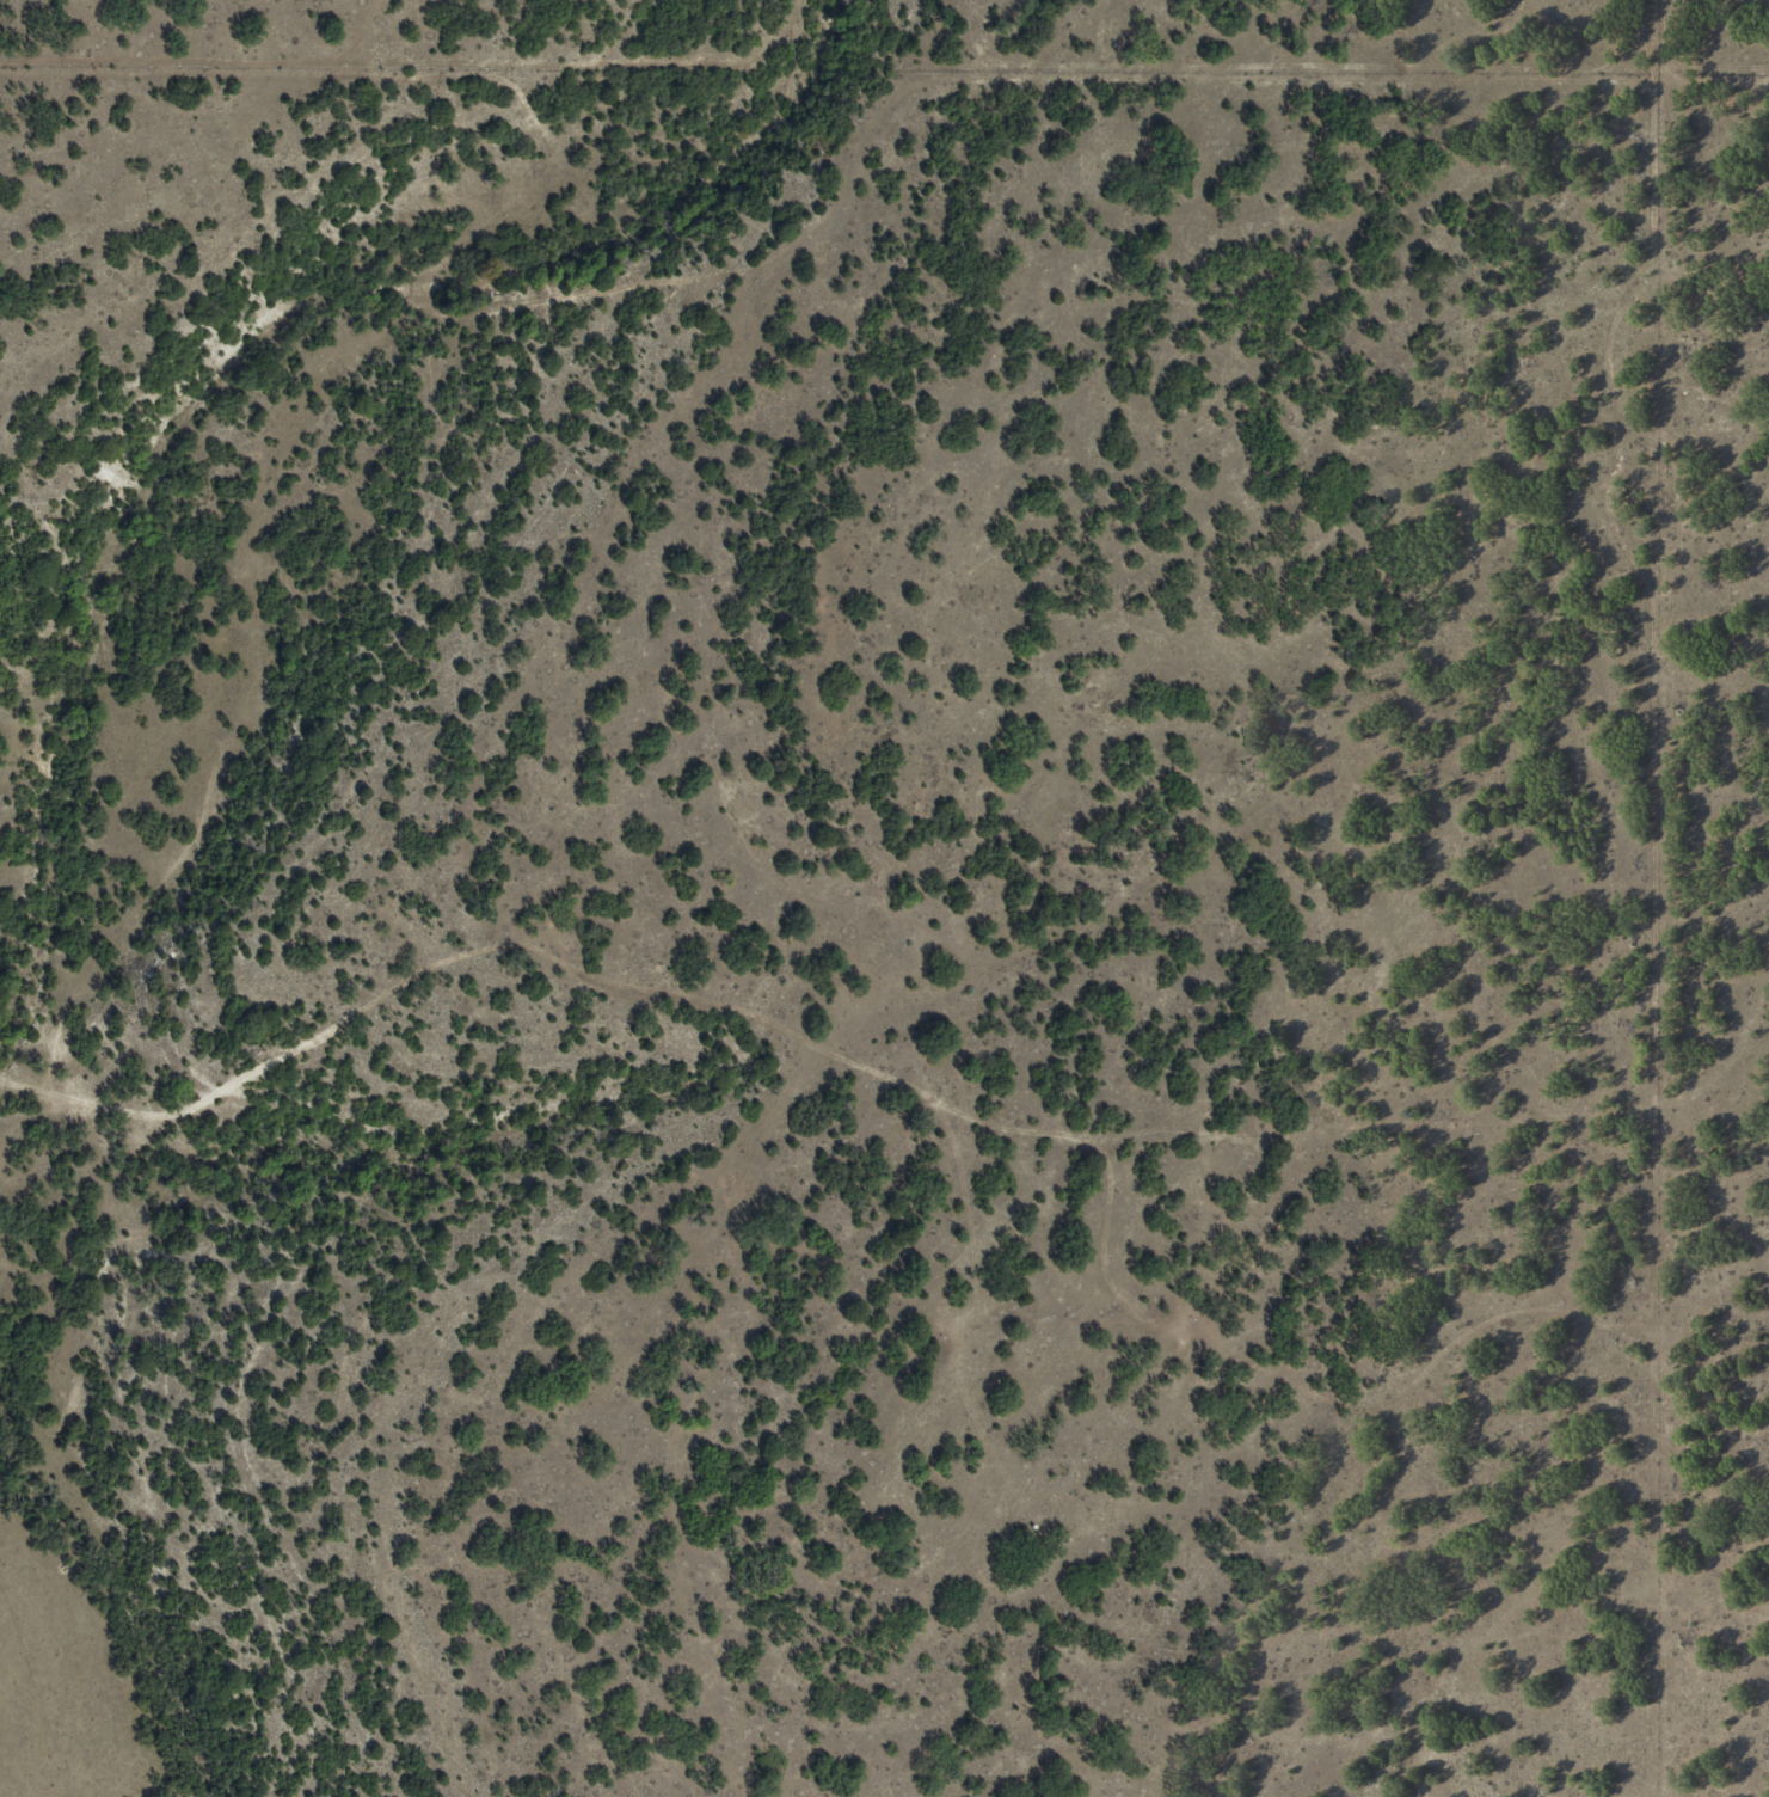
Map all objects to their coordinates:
road: (895, 1075)

